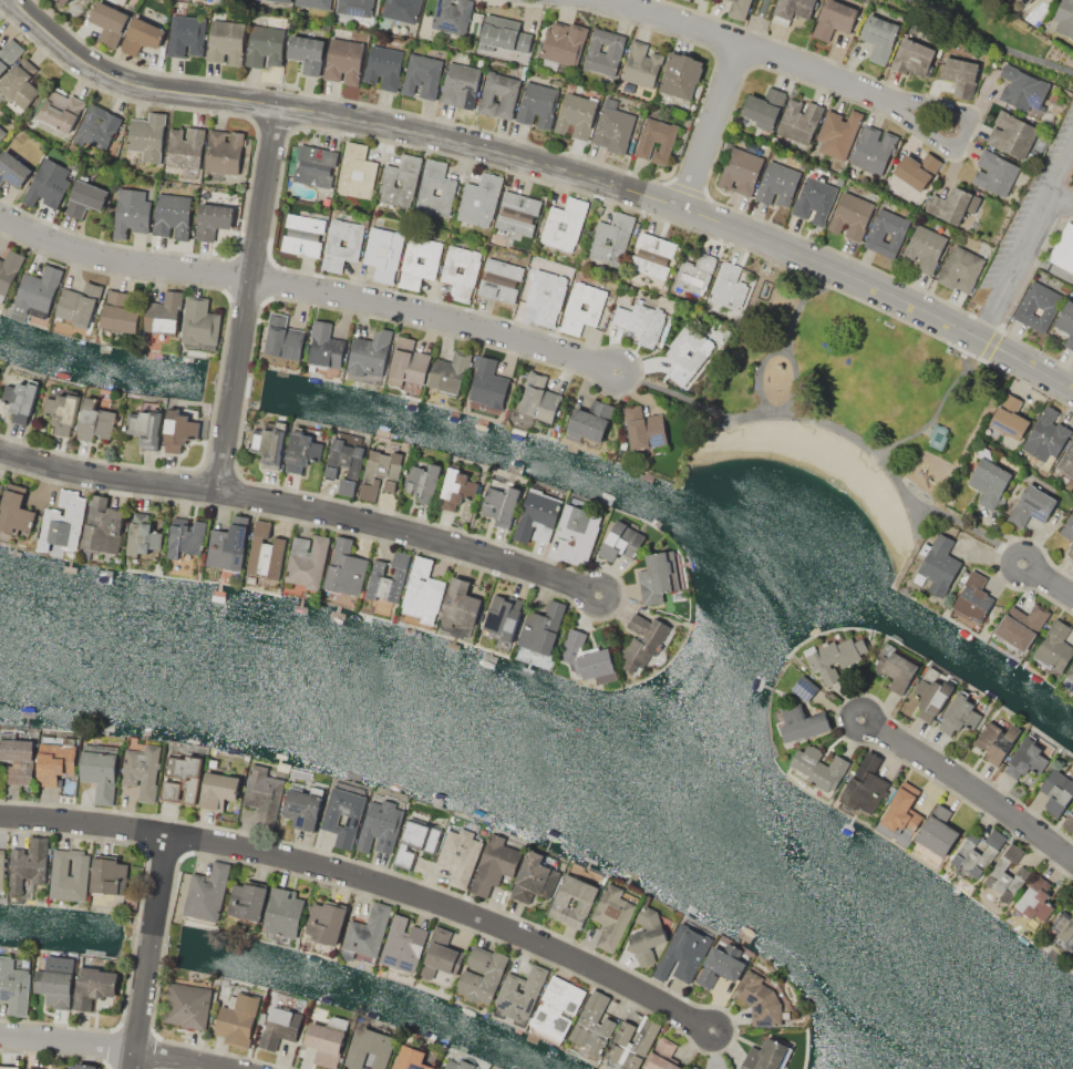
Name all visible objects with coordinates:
building: (453, 0)
building: (688, 0)
building: (62, 1)
building: (280, 1)
building: (1024, 1)
building: (314, 3)
building: (355, 8)
building: (739, 9)
building: (401, 10)
building: (792, 10)
building: (452, 16)
building: (1063, 18)
building: (835, 19)
building: (109, 23)
road: (756, 24)
building: (505, 34)
building: (141, 35)
building: (186, 35)
building: (878, 37)
park: (984, 37)
building: (226, 41)
building: (564, 42)
road: (988, 42)
building: (265, 45)
building: (603, 51)
building: (307, 52)
building: (9, 53)
building: (912, 56)
building: (343, 60)
road: (731, 61)
road: (778, 62)
building: (641, 65)
building: (383, 66)
road: (785, 74)
building: (960, 74)
building: (422, 75)
building: (681, 75)
building: (20, 83)
building: (461, 83)
building: (1023, 88)
building: (508, 96)
building: (538, 102)
building: (764, 107)
building: (58, 116)
building: (576, 116)
building: (799, 120)
road: (274, 124)
building: (97, 126)
road: (711, 129)
building: (613, 130)
building: (2, 132)
building: (837, 133)
building: (1011, 135)
building: (147, 136)
road: (516, 141)
building: (656, 141)
building: (185, 147)
building: (873, 150)
building: (223, 151)
building: (314, 165)
road: (549, 167)
road: (250, 168)
building: (12, 169)
building: (917, 169)
building: (355, 171)
building: (740, 171)
building: (995, 173)
road: (1059, 175)
building: (409, 183)
building: (48, 184)
building: (437, 184)
building: (777, 184)
road: (687, 187)
building: (84, 198)
building: (479, 199)
building: (815, 199)
road: (1059, 204)
building: (952, 205)
building: (131, 212)
building: (517, 213)
building: (172, 215)
building: (850, 215)
building: (213, 219)
building: (565, 224)
building: (886, 233)
building: (301, 235)
building: (611, 239)
building: (333, 246)
building: (925, 248)
building: (1063, 249)
building: (383, 251)
building: (652, 256)
building: (419, 266)
building: (960, 269)
road: (1009, 269)
building: (9, 271)
building: (695, 275)
building: (457, 277)
building: (499, 280)
building: (730, 287)
road: (308, 290)
road: (226, 292)
building: (37, 294)
building: (546, 296)
road: (247, 298)
road: (801, 301)
building: (1038, 306)
building: (75, 307)
building: (581, 307)
building: (118, 312)
building: (165, 315)
building: (642, 321)
building: (199, 322)
building: (1066, 322)
building: (283, 338)
road: (990, 343)
building: (324, 346)
road: (782, 347)
building: (691, 349)
building: (369, 352)
road: (519, 354)
building: (407, 361)
road: (219, 364)
building: (448, 373)
building: (487, 384)
road: (679, 391)
building: (20, 398)
building: (538, 399)
road: (939, 405)
building: (62, 412)
road: (802, 413)
park: (855, 413)
building: (591, 420)
building: (1008, 420)
building: (94, 421)
building: (144, 428)
building: (643, 428)
building: (178, 430)
building: (938, 436)
building: (1046, 436)
building: (269, 444)
building: (302, 448)
building: (1066, 461)
building: (330, 470)
road: (217, 471)
building: (380, 473)
building: (423, 482)
building: (989, 482)
building: (0, 486)
building: (456, 489)
building: (501, 502)
building: (1032, 505)
road: (301, 506)
road: (943, 508)
building: (14, 510)
building: (537, 516)
building: (62, 522)
building: (102, 525)
building: (1067, 527)
building: (578, 532)
building: (142, 535)
building: (185, 537)
building: (621, 542)
building: (228, 545)
building: (1071, 545)
road: (1040, 548)
building: (265, 552)
building: (307, 562)
building: (937, 565)
building: (344, 568)
building: (658, 576)
building: (388, 577)
road: (1046, 580)
road: (1018, 588)
building: (422, 589)
building: (974, 598)
building: (460, 603)
building: (497, 615)
building: (1022, 627)
building: (541, 628)
building: (643, 640)
building: (1054, 646)
building: (834, 655)
building: (587, 658)
building: (897, 667)
building: (1069, 680)
building: (805, 687)
building: (932, 692)
building: (962, 712)
road: (835, 713)
building: (803, 723)
building: (995, 741)
building: (1029, 756)
building: (55, 759)
building: (18, 760)
building: (818, 769)
building: (100, 770)
building: (142, 771)
building: (180, 779)
building: (865, 784)
road: (966, 788)
building: (218, 790)
building: (1056, 792)
building: (264, 794)
building: (303, 806)
building: (902, 809)
building: (330, 820)
building: (1067, 823)
building: (380, 826)
building: (935, 836)
building: (416, 841)
building: (976, 853)
building: (458, 856)
building: (29, 864)
building: (494, 864)
building: (59, 867)
building: (1, 868)
building: (1007, 874)
building: (109, 875)
building: (530, 877)
road: (367, 880)
building: (207, 893)
building: (247, 901)
building: (585, 902)
building: (1032, 903)
building: (282, 913)
building: (613, 915)
building: (324, 922)
building: (1064, 928)
building: (367, 932)
building: (648, 935)
building: (402, 944)
road: (148, 952)
building: (684, 952)
building: (441, 959)
building: (722, 964)
building: (492, 975)
building: (441, 977)
building: (55, 981)
building: (13, 986)
building: (93, 986)
building: (520, 991)
building: (760, 999)
building: (187, 1006)
building: (557, 1006)
building: (236, 1019)
building: (594, 1024)
building: (279, 1027)
building: (323, 1044)
building: (631, 1044)
building: (370, 1048)
road: (115, 1049)
building: (662, 1056)
building: (766, 1056)
building: (410, 1058)
building: (458, 1065)
building: (85, 1066)
building: (10, 1067)
building: (35, 1067)
building: (692, 1068)

